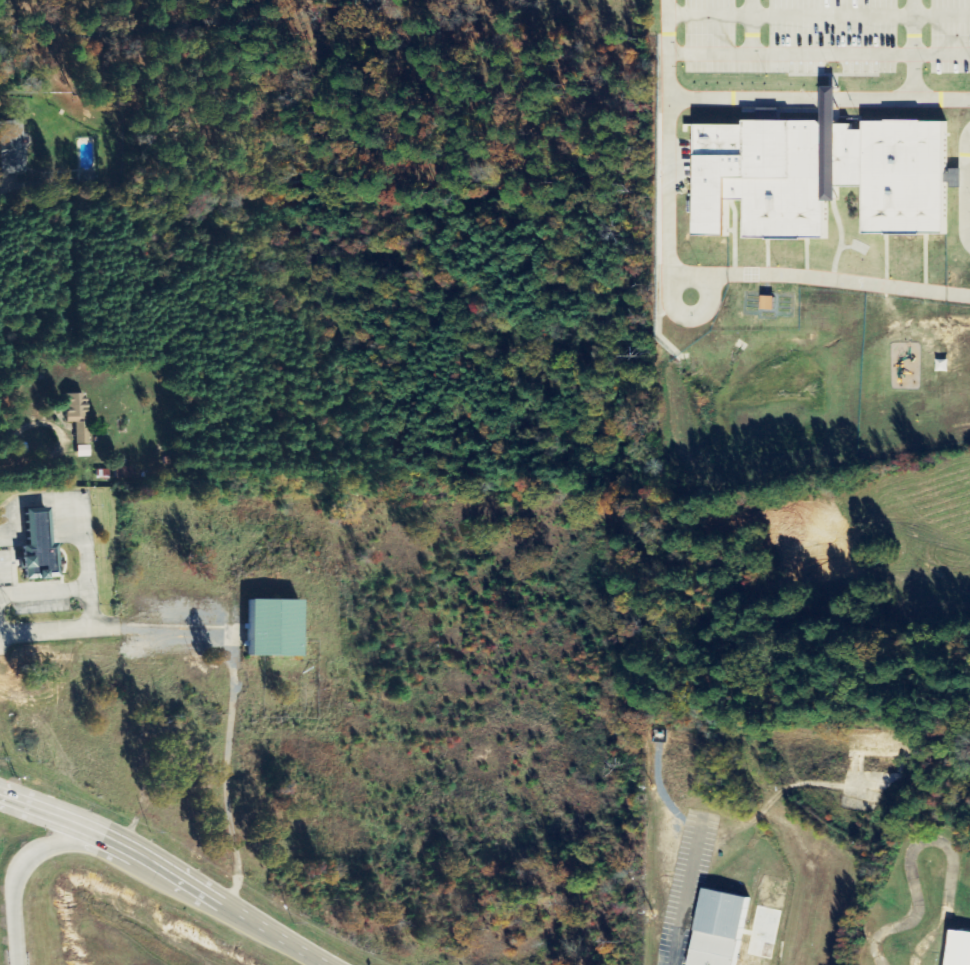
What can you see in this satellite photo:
road: (816, 15)
road: (749, 26)
road: (911, 26)
road: (146, 34)
parking lot: (824, 35)
road: (816, 52)
road: (911, 75)
road: (816, 98)
road: (663, 167)
building: (819, 172)
road: (832, 279)
road: (955, 292)
building: (79, 420)
road: (81, 522)
building: (48, 546)
road: (44, 593)
building: (278, 628)
road: (57, 630)
road: (20, 865)
road: (168, 866)
building: (743, 934)
building: (963, 949)

